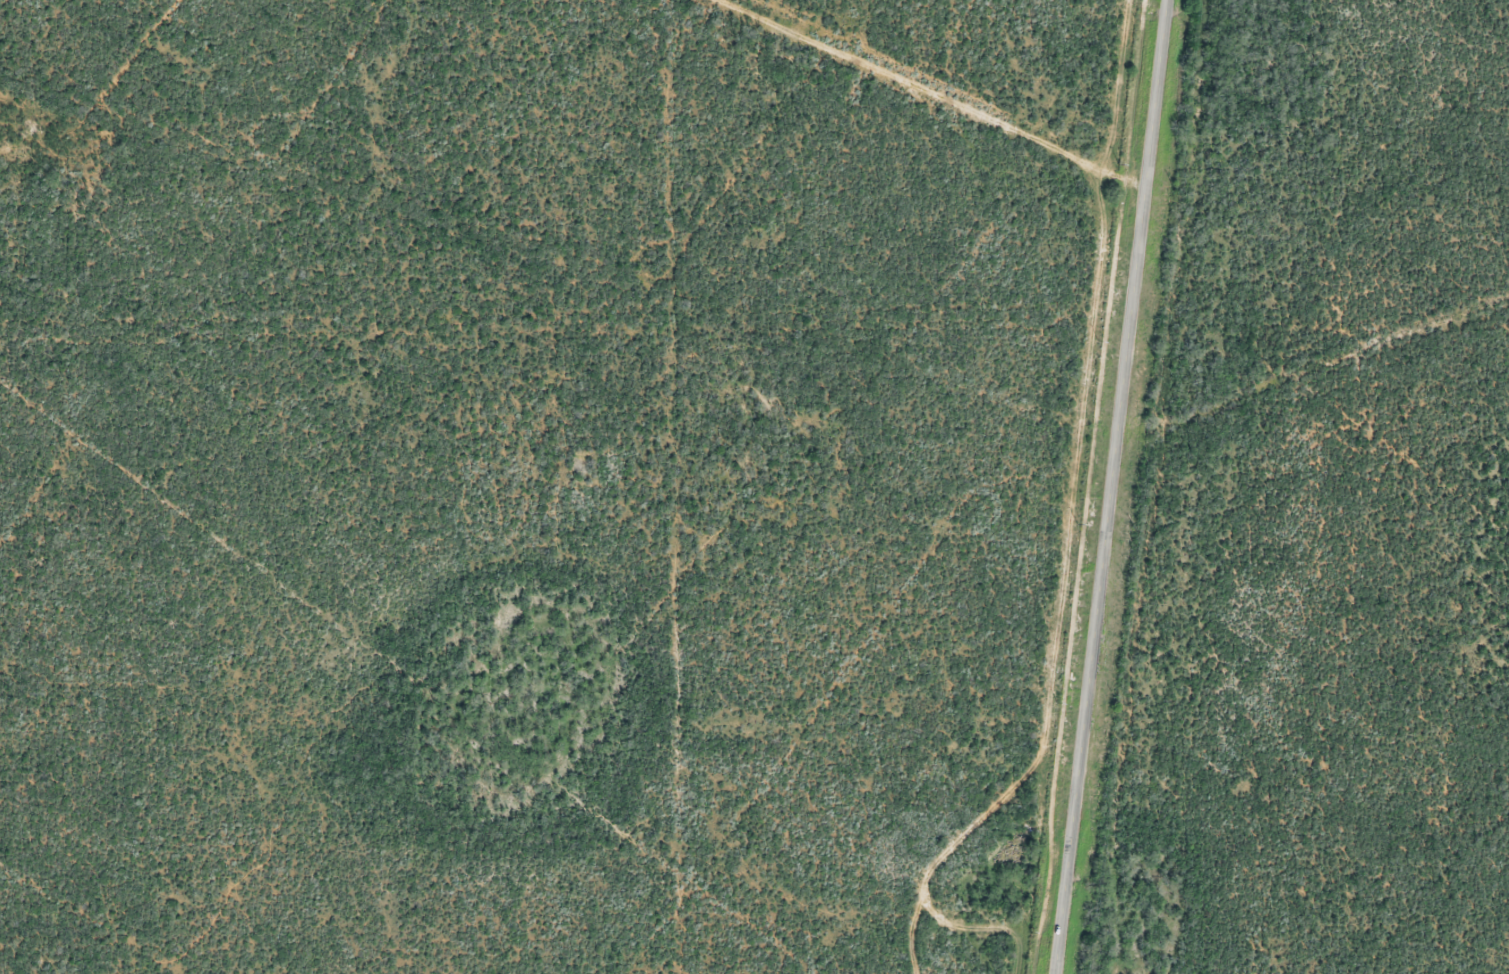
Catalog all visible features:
road: (1322, 376)
road: (1123, 487)

